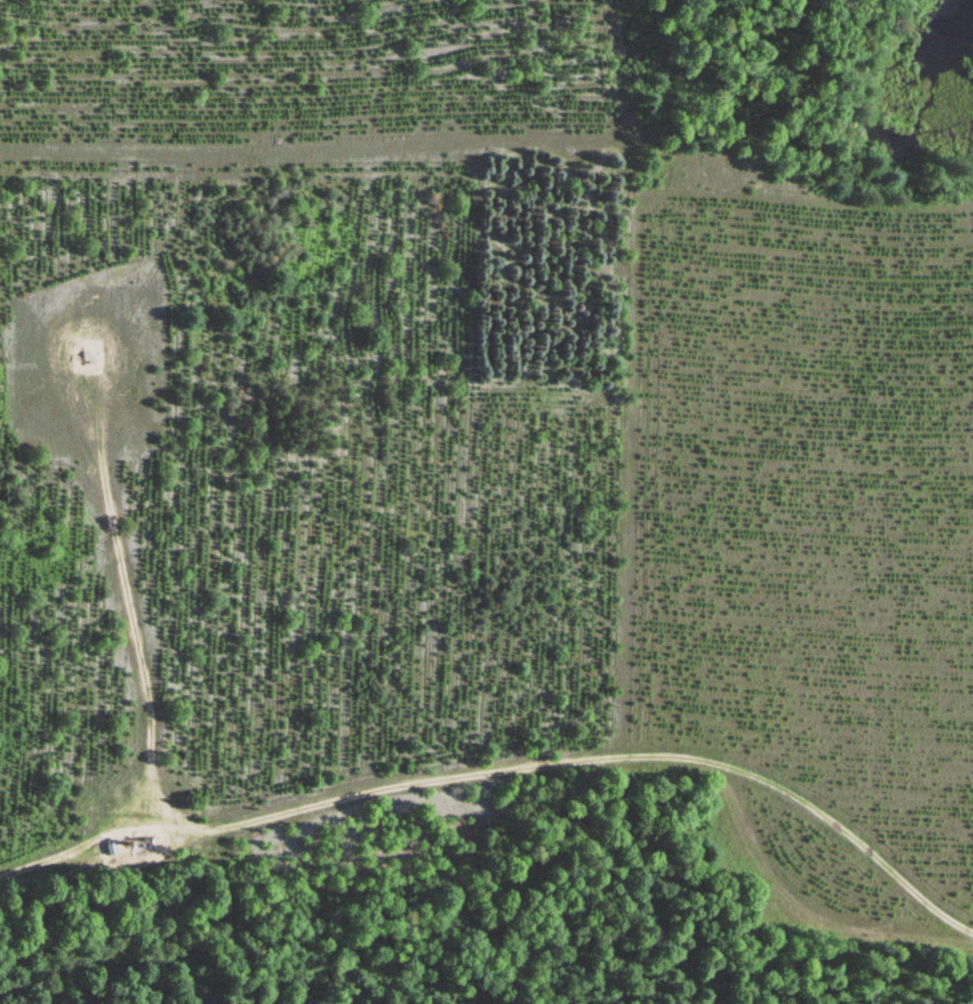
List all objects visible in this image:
road: (88, 342)
petroleum well: (82, 361)
road: (85, 370)
road: (420, 799)
road: (80, 848)

